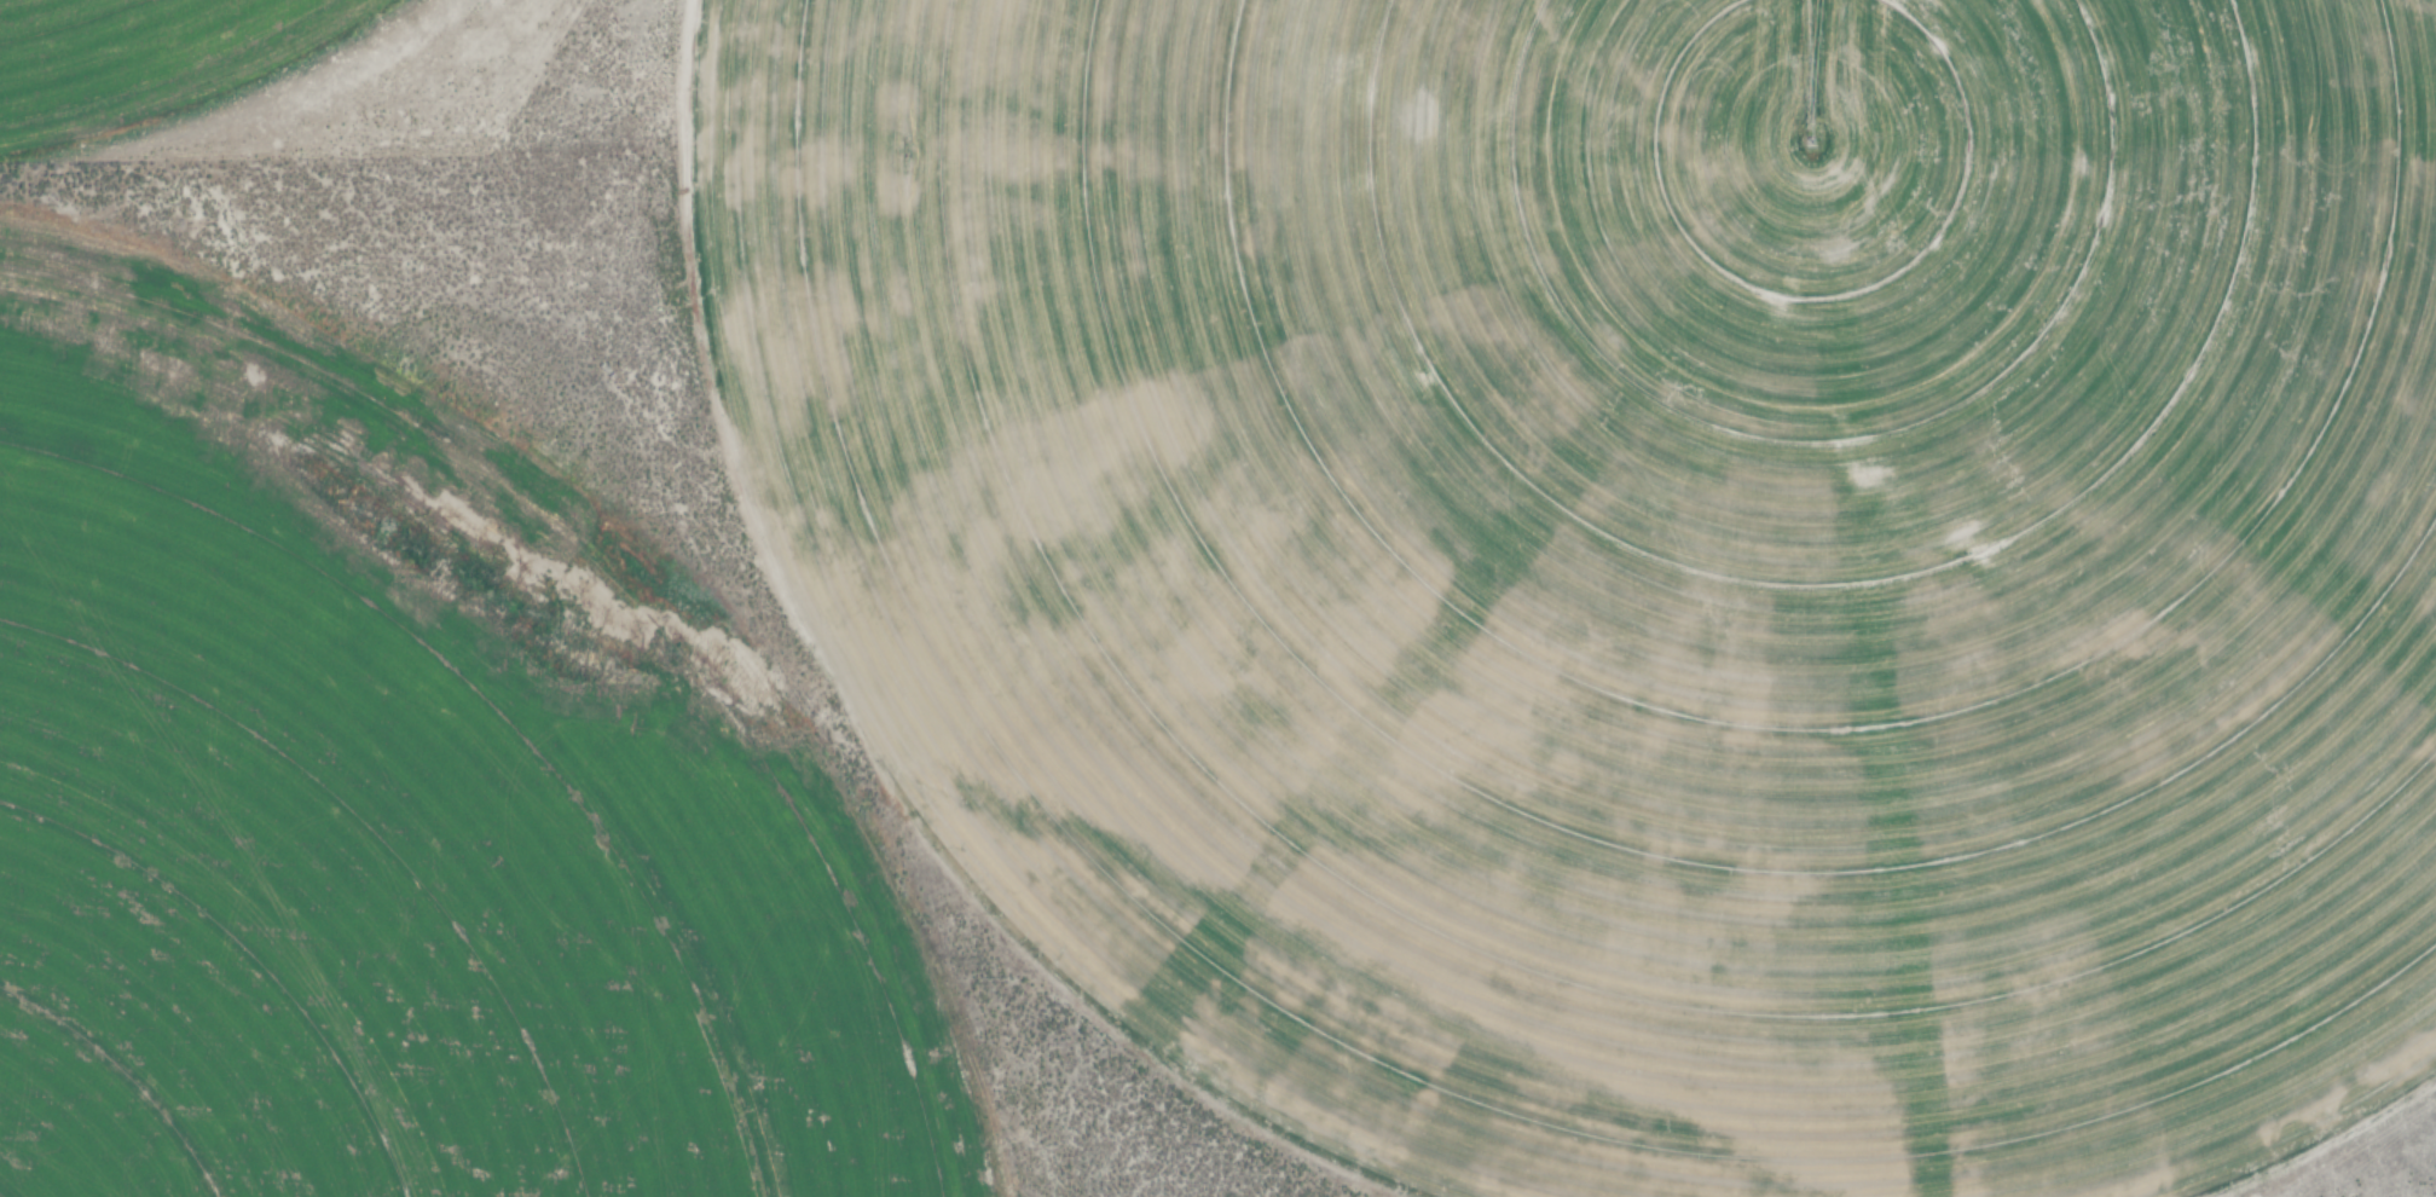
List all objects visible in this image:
crop: (122, 45)
crop: (1642, 548)

